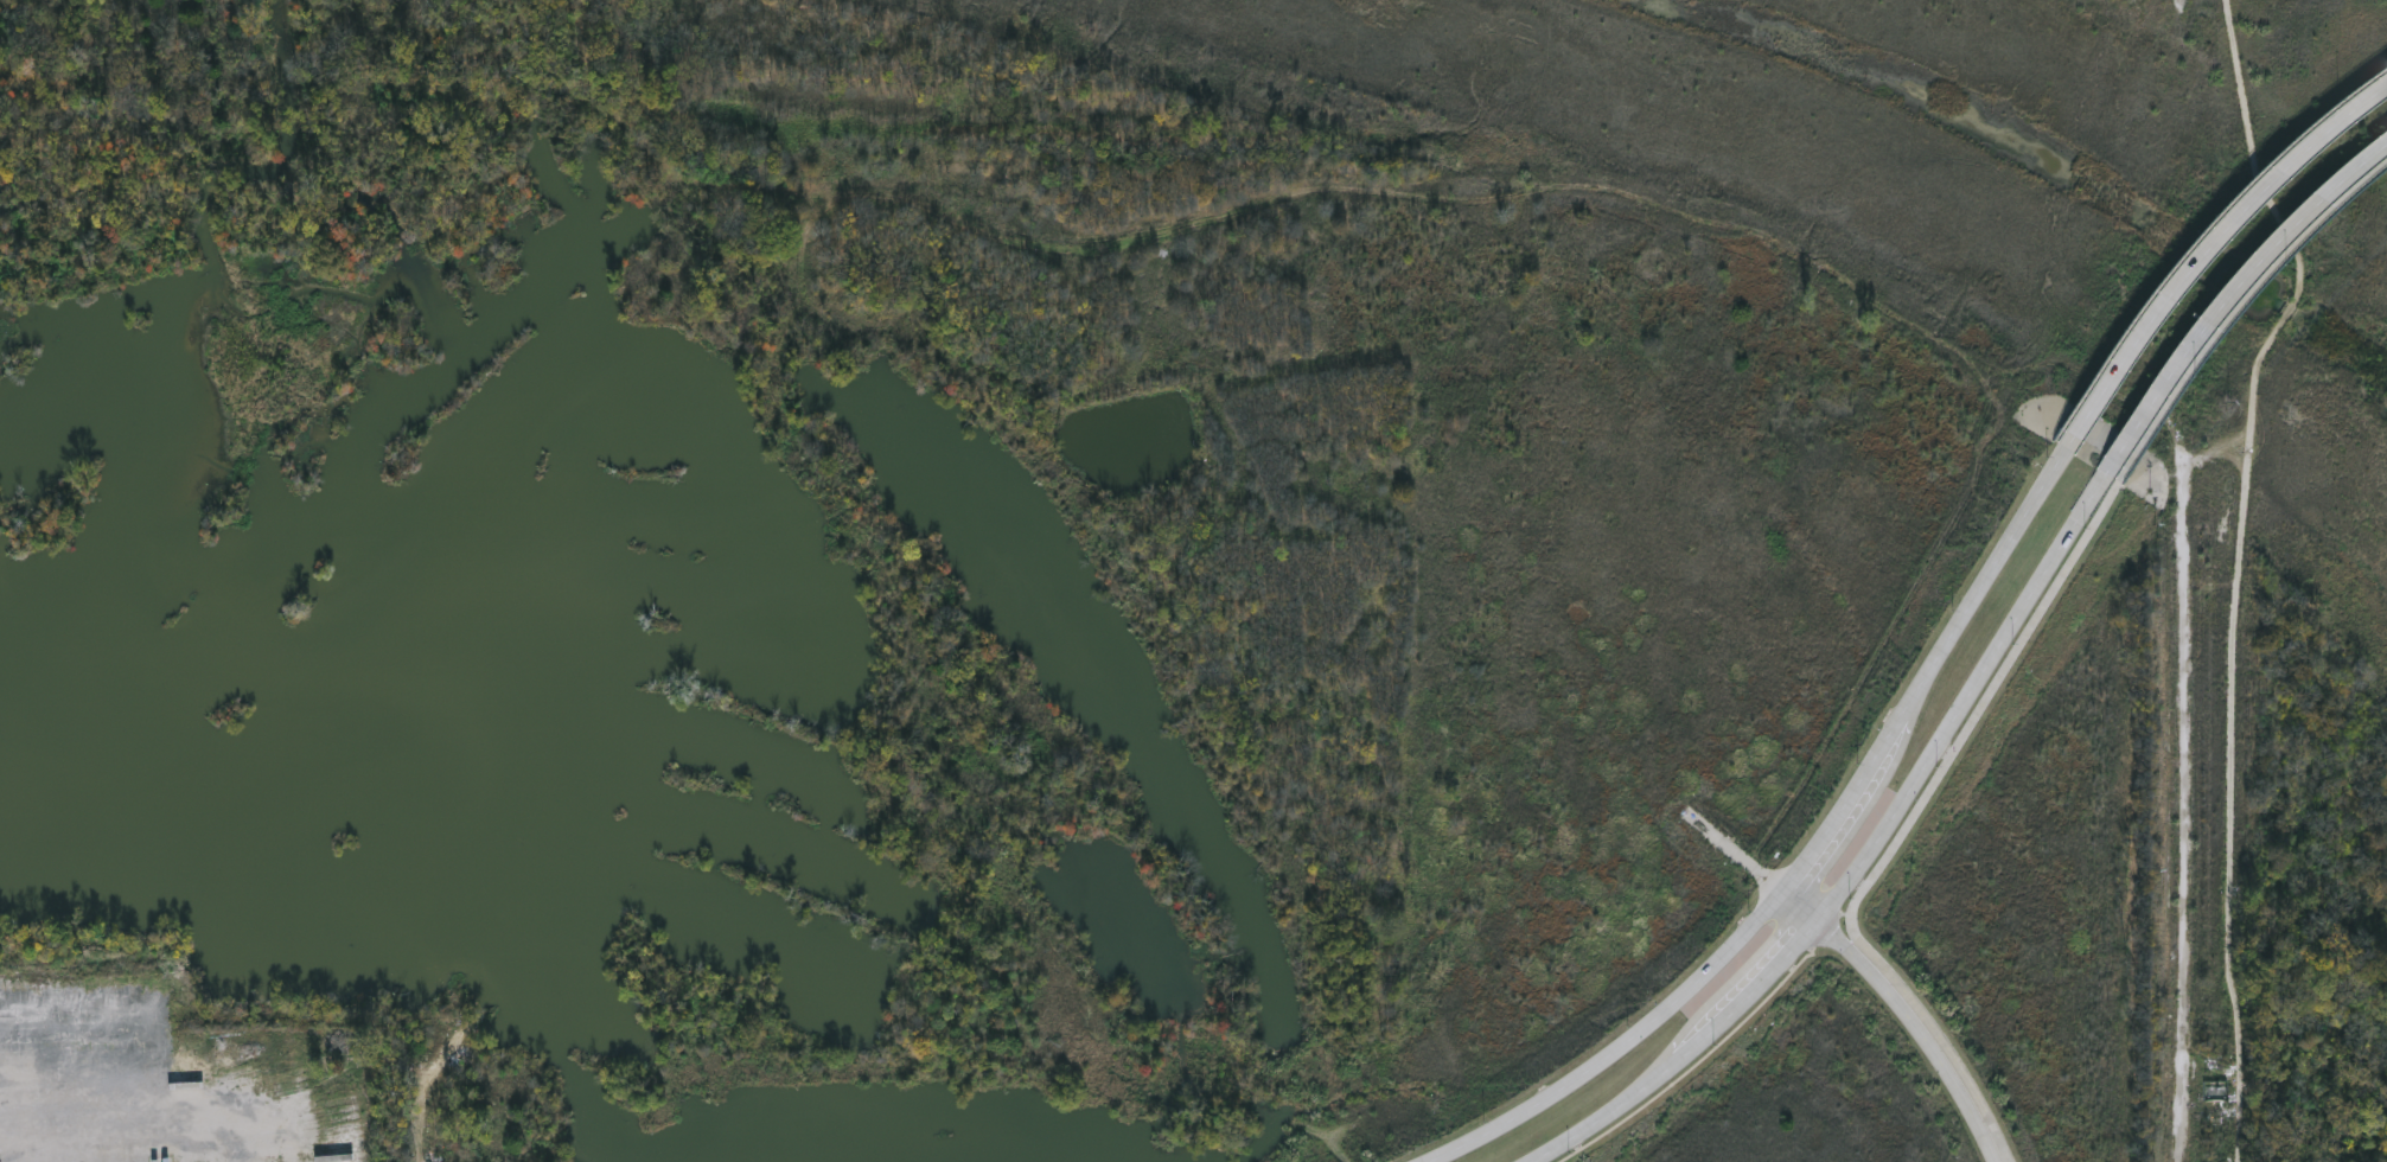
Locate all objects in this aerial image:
road: (2209, 249)
road: (2227, 295)
road: (2239, 318)
road: (1920, 828)
road: (1806, 850)
road: (1869, 860)
road: (1903, 1009)
road: (106, 1105)

